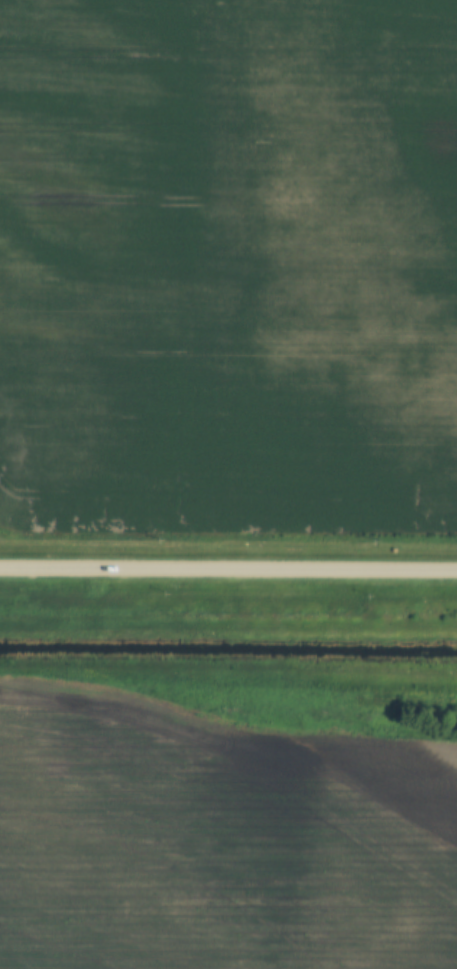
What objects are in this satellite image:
road: (228, 569)

